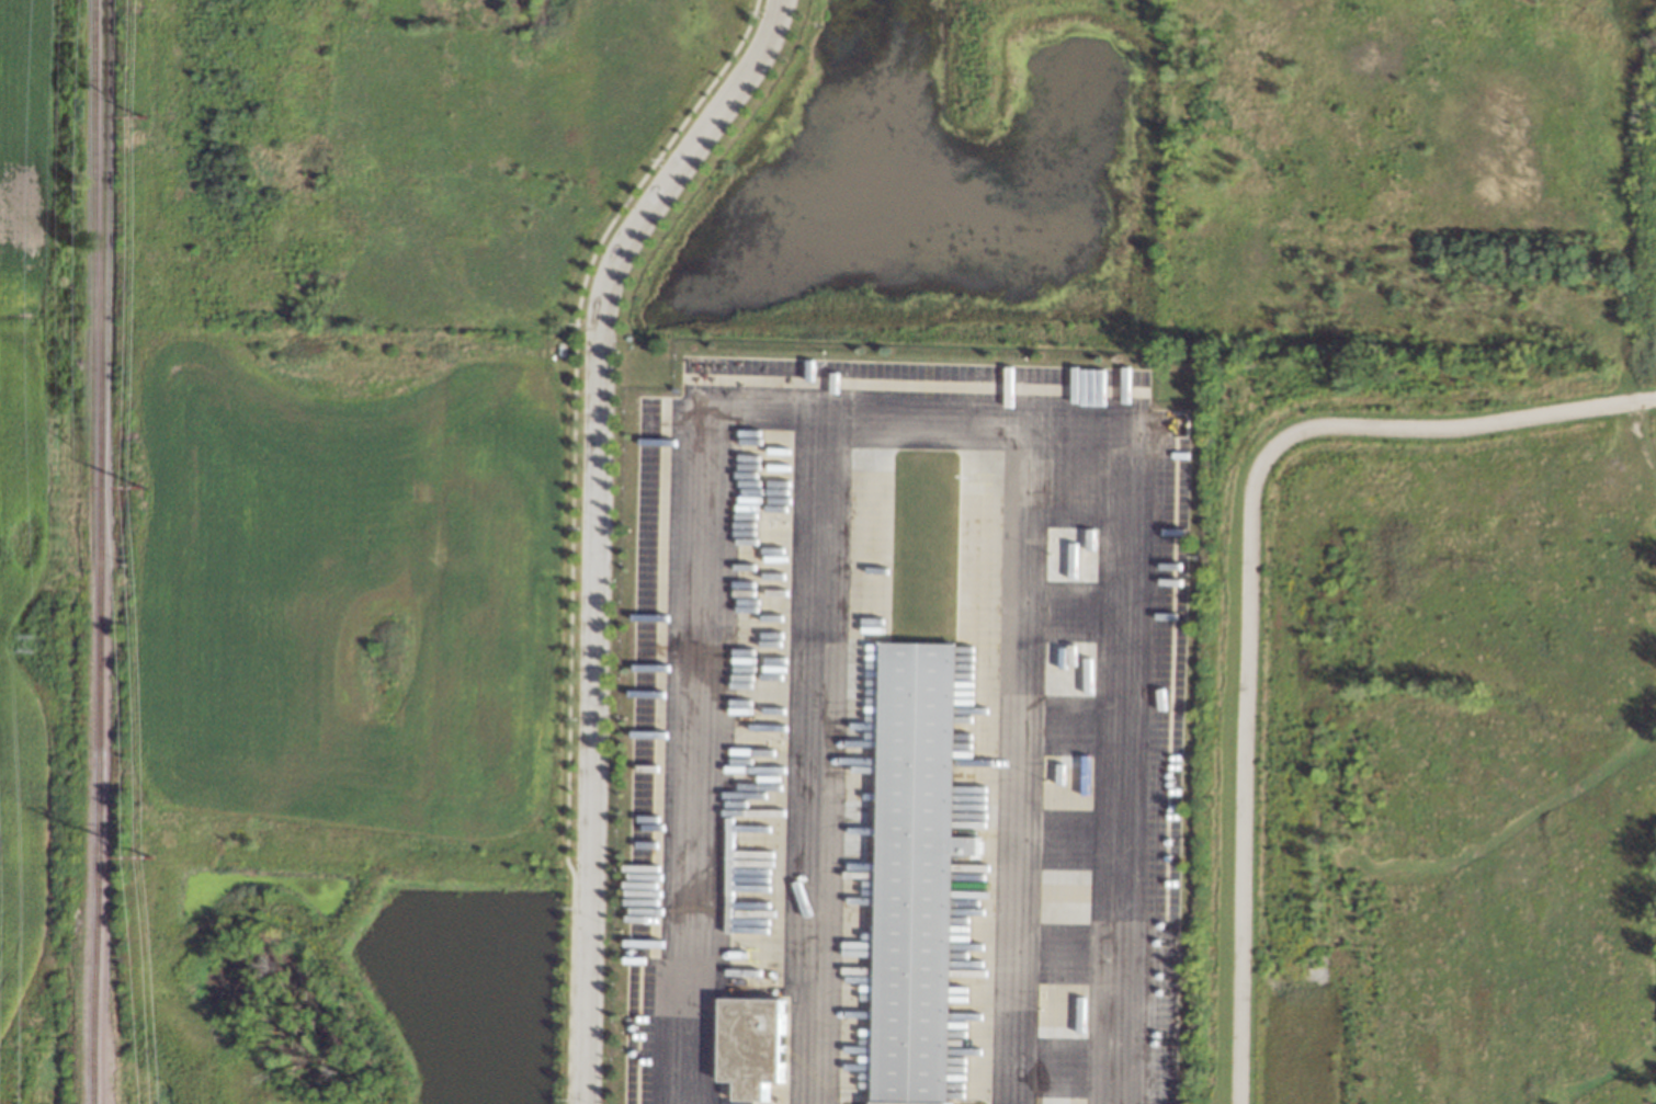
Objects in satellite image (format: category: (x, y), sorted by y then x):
power tower: (143, 115)
road: (906, 412)
power tower: (141, 486)
road: (593, 525)
railway: (97, 551)
road: (1248, 577)
power tower: (34, 642)
road: (820, 758)
road: (1023, 760)
power tower: (150, 855)
building: (920, 873)
building: (758, 1046)

